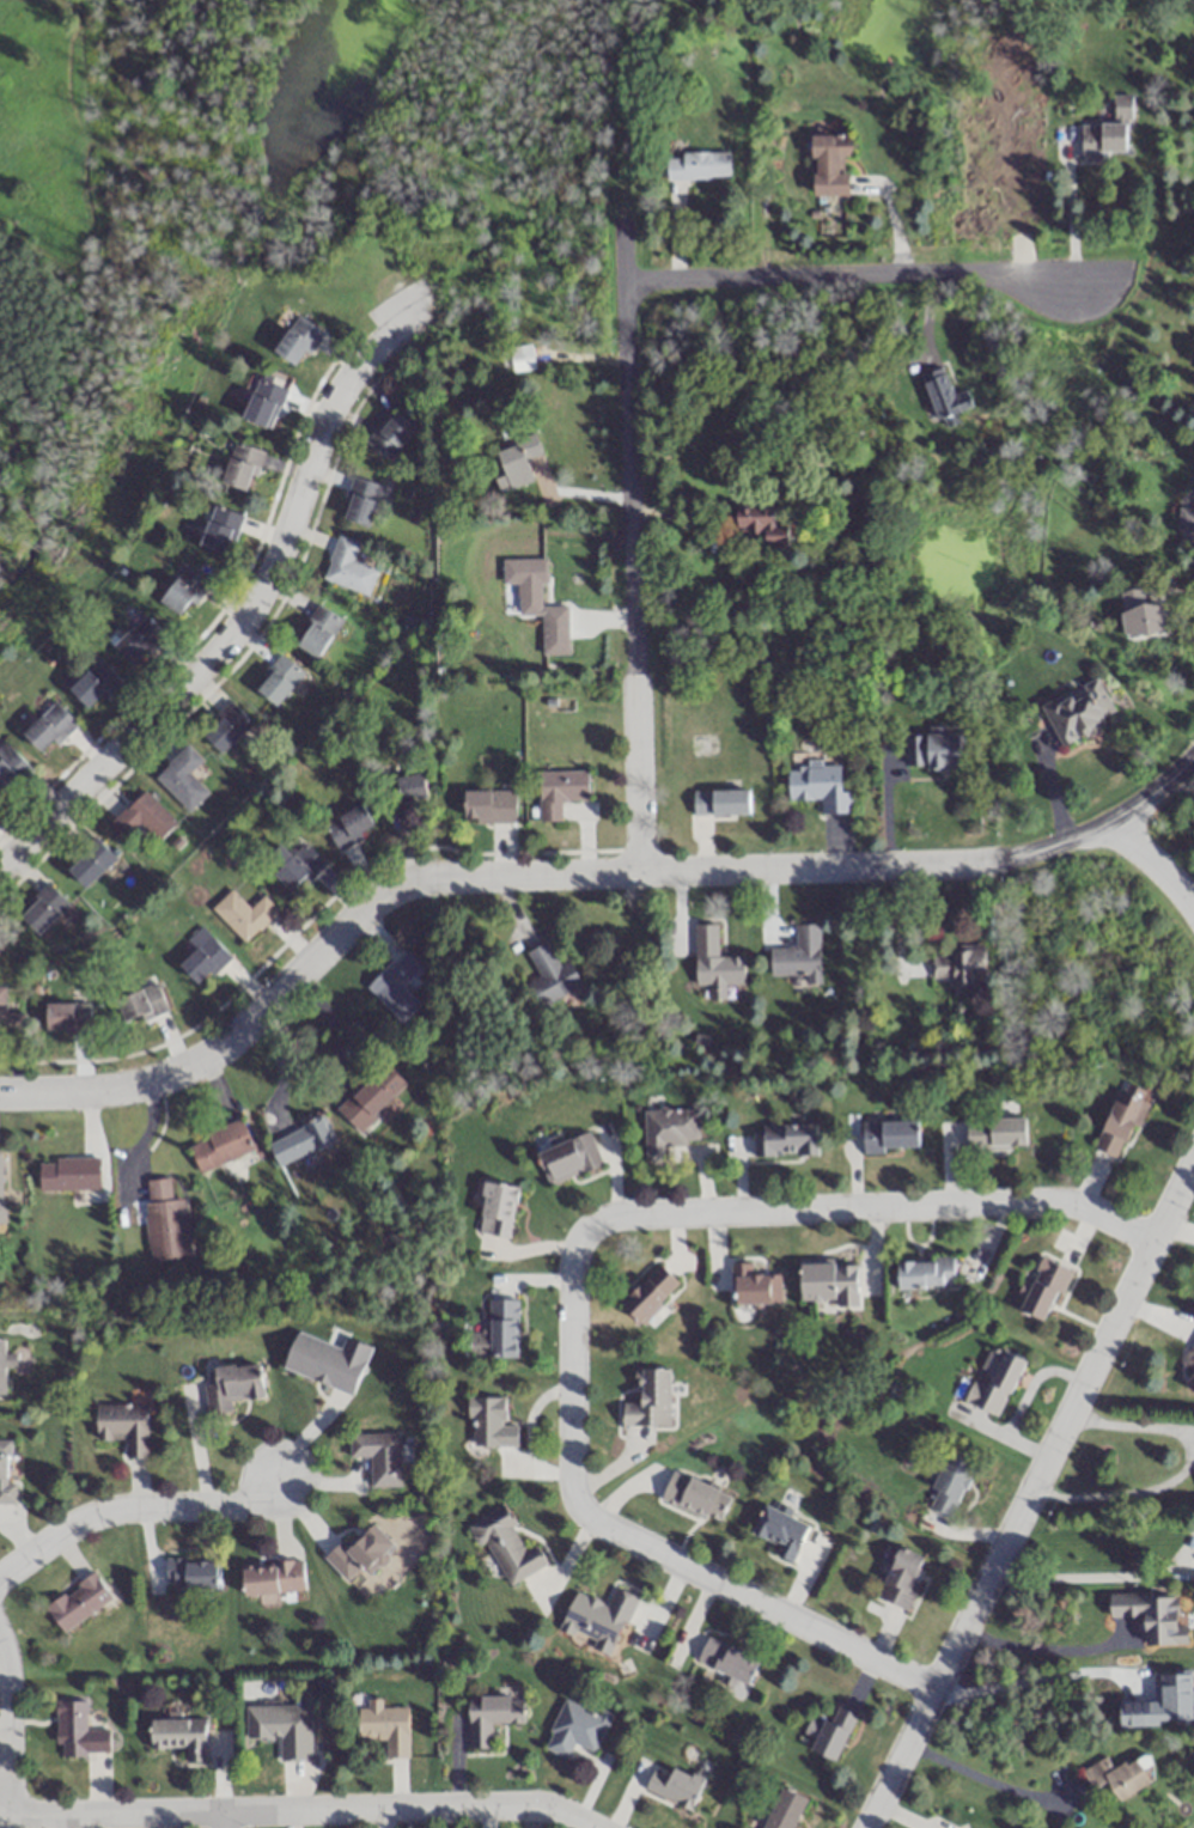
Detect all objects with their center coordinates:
building: (1109, 132)
building: (697, 166)
building: (830, 166)
park: (535, 170)
park: (179, 234)
road: (843, 275)
building: (298, 341)
building: (944, 396)
building: (264, 404)
building: (389, 435)
building: (518, 463)
building: (242, 468)
building: (360, 502)
building: (1186, 520)
building: (763, 526)
building: (220, 531)
road: (635, 546)
building: (347, 568)
building: (525, 584)
building: (184, 592)
road: (246, 613)
building: (1144, 613)
building: (316, 632)
building: (138, 641)
building: (278, 681)
building: (93, 685)
building: (1079, 712)
building: (49, 729)
building: (230, 731)
building: (940, 749)
building: (11, 770)
building: (181, 779)
building: (820, 788)
building: (560, 792)
building: (402, 793)
building: (721, 803)
building: (489, 806)
building: (141, 817)
building: (349, 828)
building: (90, 863)
building: (294, 865)
road: (1155, 865)
road: (578, 871)
building: (43, 907)
building: (244, 913)
building: (202, 955)
building: (799, 955)
building: (715, 962)
building: (960, 965)
building: (552, 975)
building: (396, 986)
building: (141, 1003)
building: (1, 1010)
building: (67, 1016)
building: (371, 1097)
building: (1122, 1123)
building: (997, 1133)
building: (890, 1134)
building: (672, 1135)
building: (786, 1139)
building: (300, 1142)
building: (221, 1147)
building: (568, 1159)
building: (67, 1174)
building: (0, 1187)
building: (498, 1209)
building: (164, 1220)
building: (926, 1272)
road: (572, 1275)
building: (830, 1280)
building: (1044, 1287)
building: (650, 1293)
building: (497, 1330)
building: (2, 1366)
building: (1190, 1379)
building: (994, 1381)
building: (232, 1385)
building: (650, 1399)
building: (488, 1422)
road: (1132, 1424)
building: (123, 1426)
building: (378, 1456)
building: (6, 1474)
building: (950, 1485)
road: (1028, 1492)
building: (695, 1495)
road: (1117, 1495)
road: (132, 1510)
building: (781, 1533)
building: (505, 1544)
building: (360, 1554)
building: (193, 1576)
building: (902, 1577)
building: (273, 1578)
road: (1090, 1584)
building: (78, 1601)
building: (597, 1619)
road: (1037, 1656)
building: (729, 1659)
building: (492, 1717)
building: (385, 1726)
building: (281, 1728)
building: (575, 1728)
building: (78, 1730)
building: (834, 1731)
road: (6, 1735)
building: (179, 1735)
building: (1122, 1775)
road: (988, 1778)
building: (674, 1785)
road: (304, 1808)
building: (786, 1809)
road: (226, 1818)

